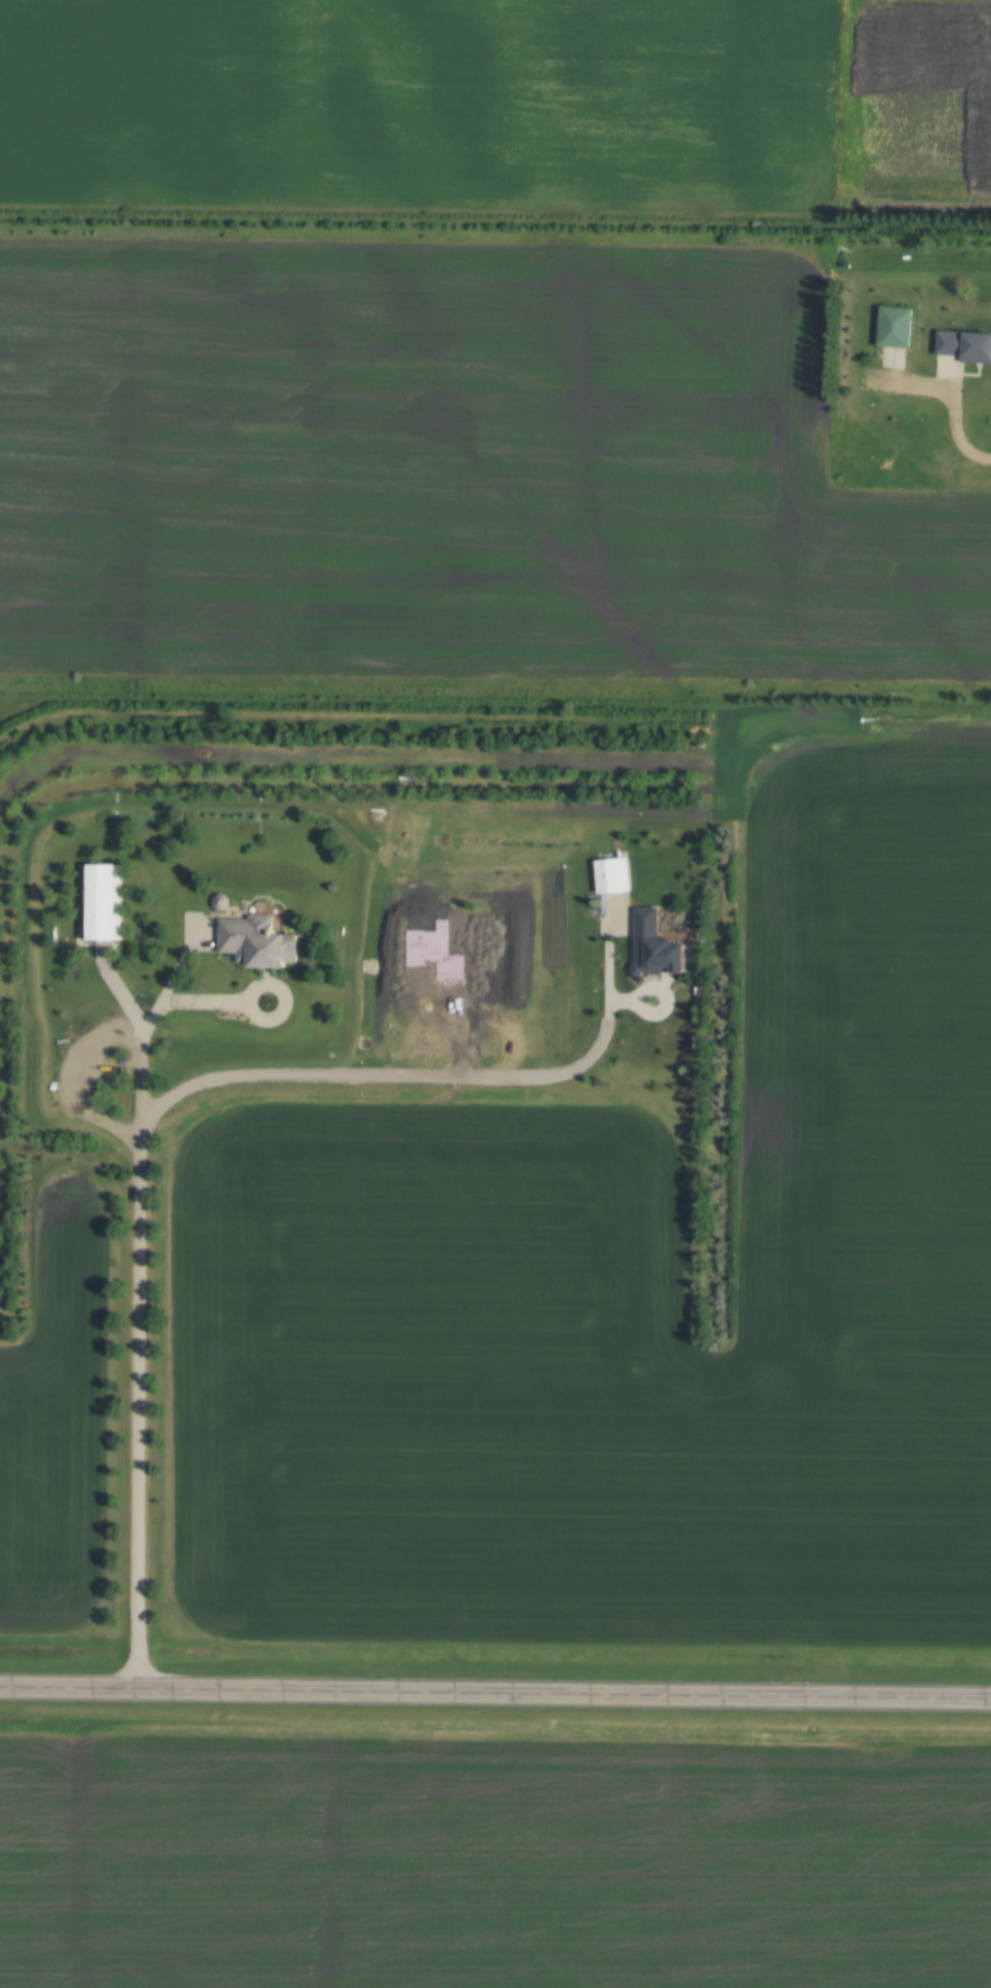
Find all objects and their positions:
road: (954, 409)
road: (282, 991)
road: (654, 993)
road: (438, 1075)
road: (140, 1303)
road: (495, 1697)

